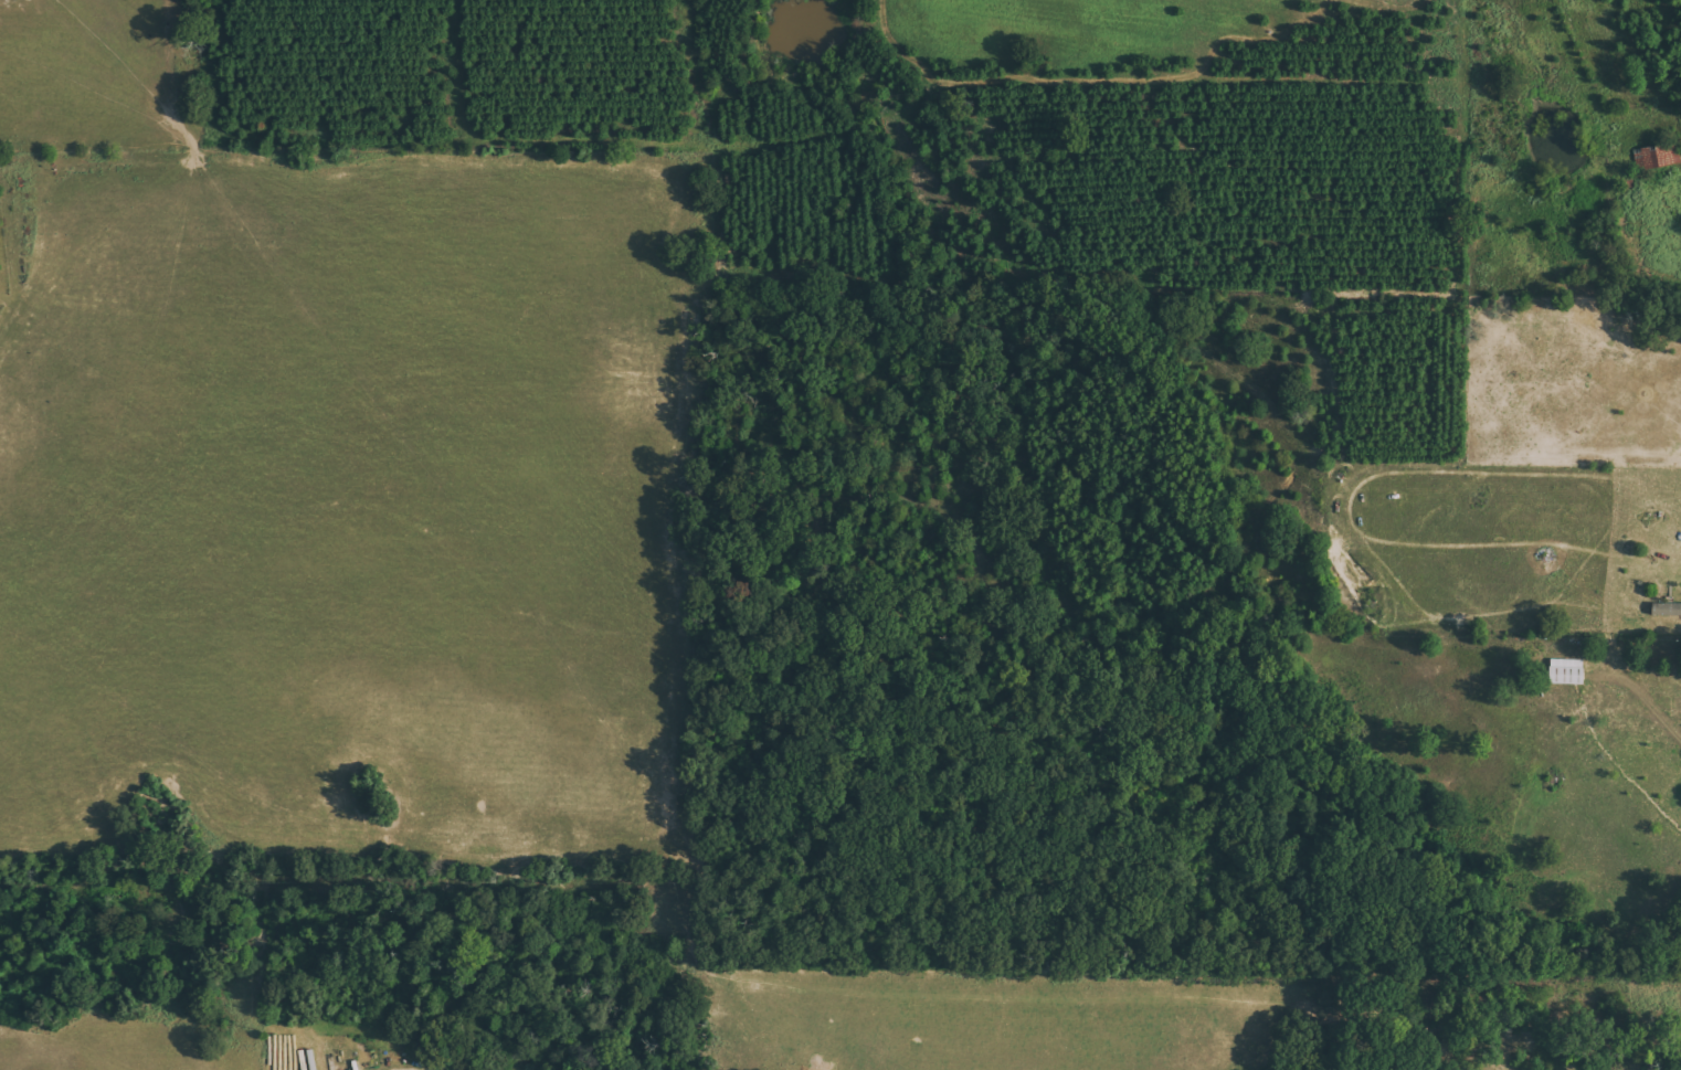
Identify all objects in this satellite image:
building: (1658, 158)
building: (1667, 610)
building: (1571, 671)

